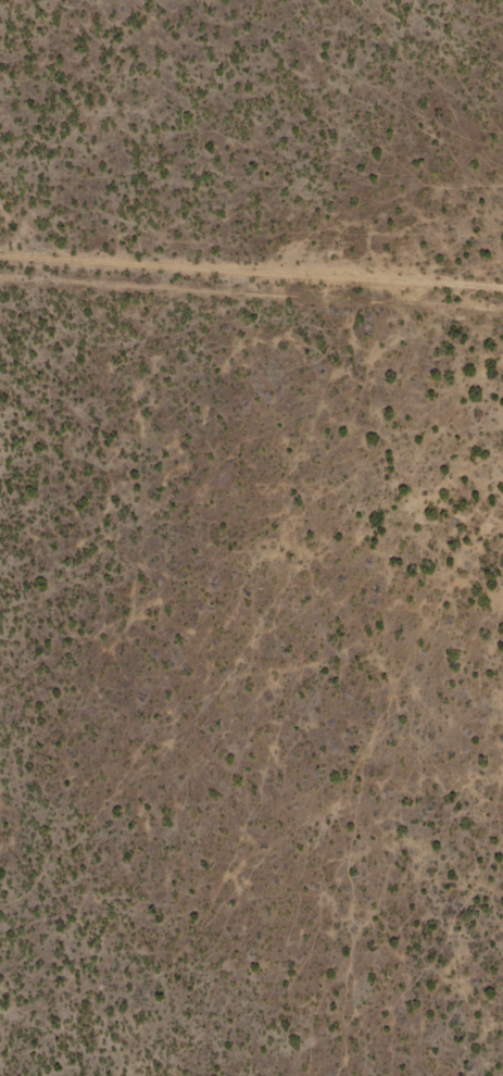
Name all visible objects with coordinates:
road: (251, 314)

